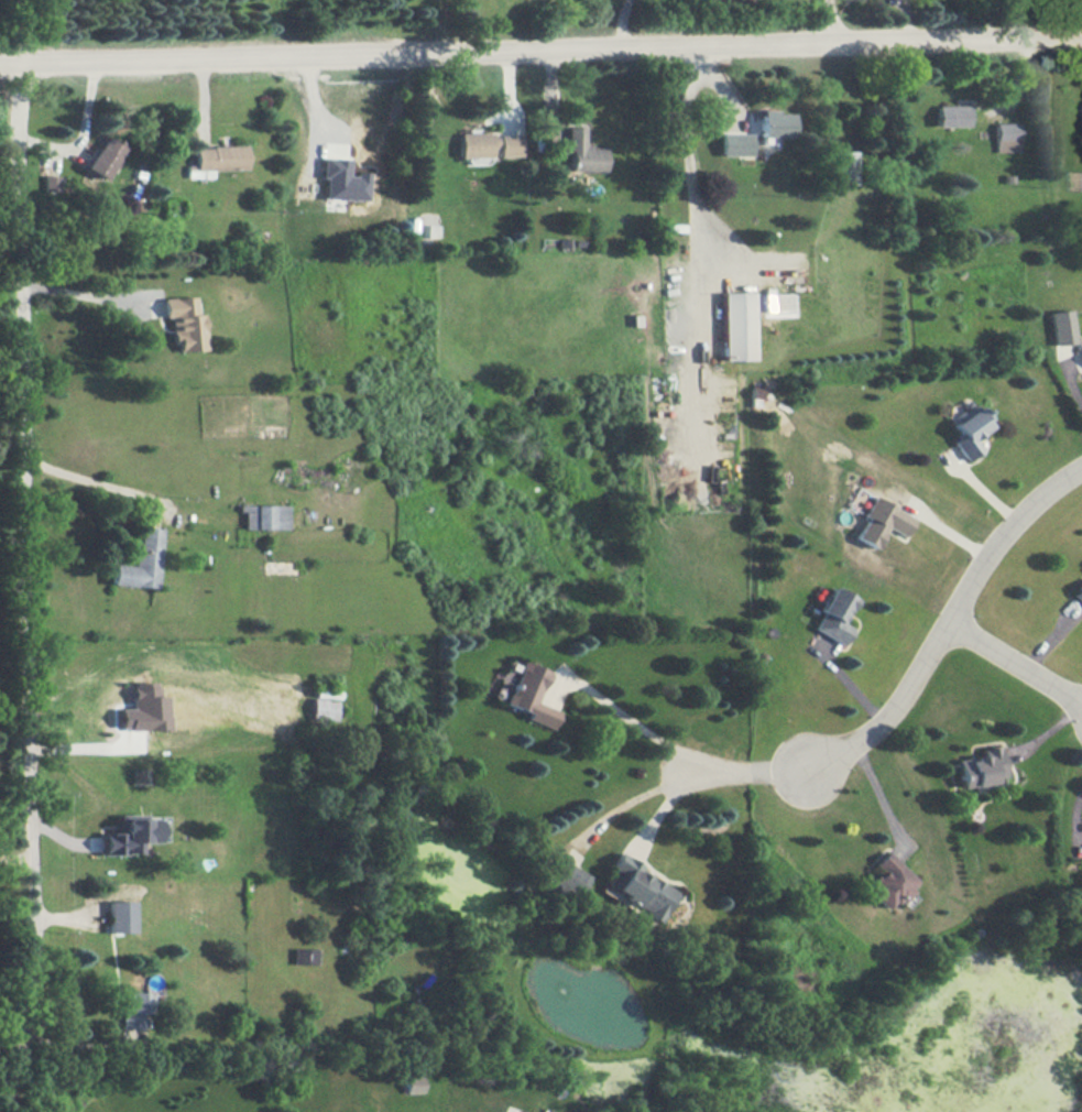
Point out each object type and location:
road: (906, 21)
road: (833, 22)
road: (620, 24)
road: (477, 28)
road: (540, 52)
building: (950, 116)
building: (775, 124)
road: (81, 133)
building: (1006, 137)
building: (735, 144)
building: (584, 152)
building: (105, 157)
building: (217, 159)
building: (841, 166)
building: (341, 181)
building: (51, 183)
road: (697, 220)
building: (429, 230)
road: (85, 288)
building: (184, 324)
building: (735, 326)
building: (1060, 327)
building: (1081, 350)
building: (969, 432)
road: (86, 479)
building: (264, 516)
building: (879, 522)
building: (140, 562)
road: (24, 590)
building: (1078, 592)
building: (833, 615)
road: (946, 622)
road: (1013, 662)
building: (531, 695)
building: (143, 709)
road: (674, 755)
building: (981, 768)
road: (662, 813)
road: (1074, 815)
building: (128, 835)
building: (567, 880)
building: (889, 881)
building: (638, 887)
building: (119, 916)
building: (303, 956)
building: (132, 1010)
building: (411, 1084)
building: (524, 1111)

